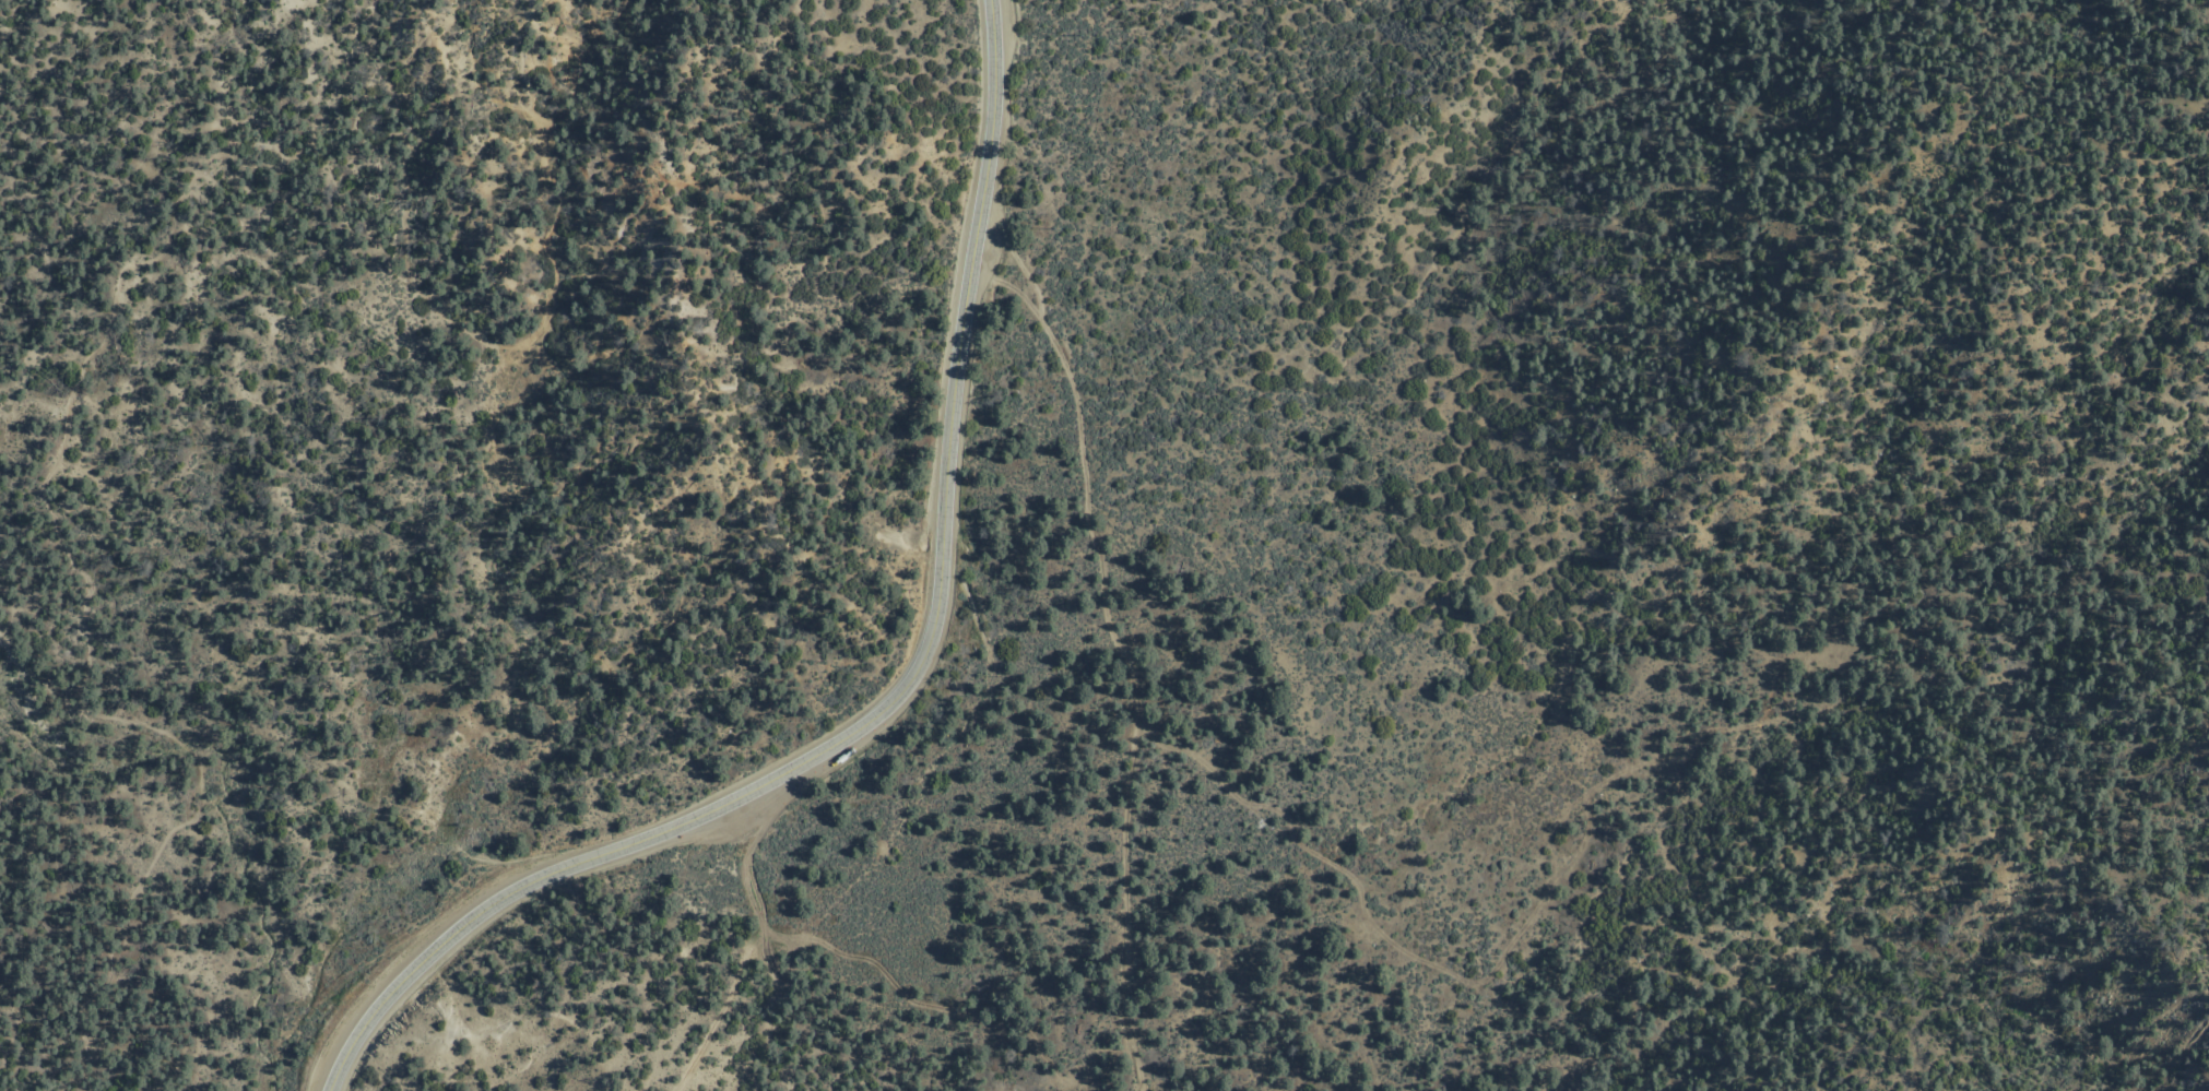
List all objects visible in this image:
road: (1123, 637)
road: (891, 692)

